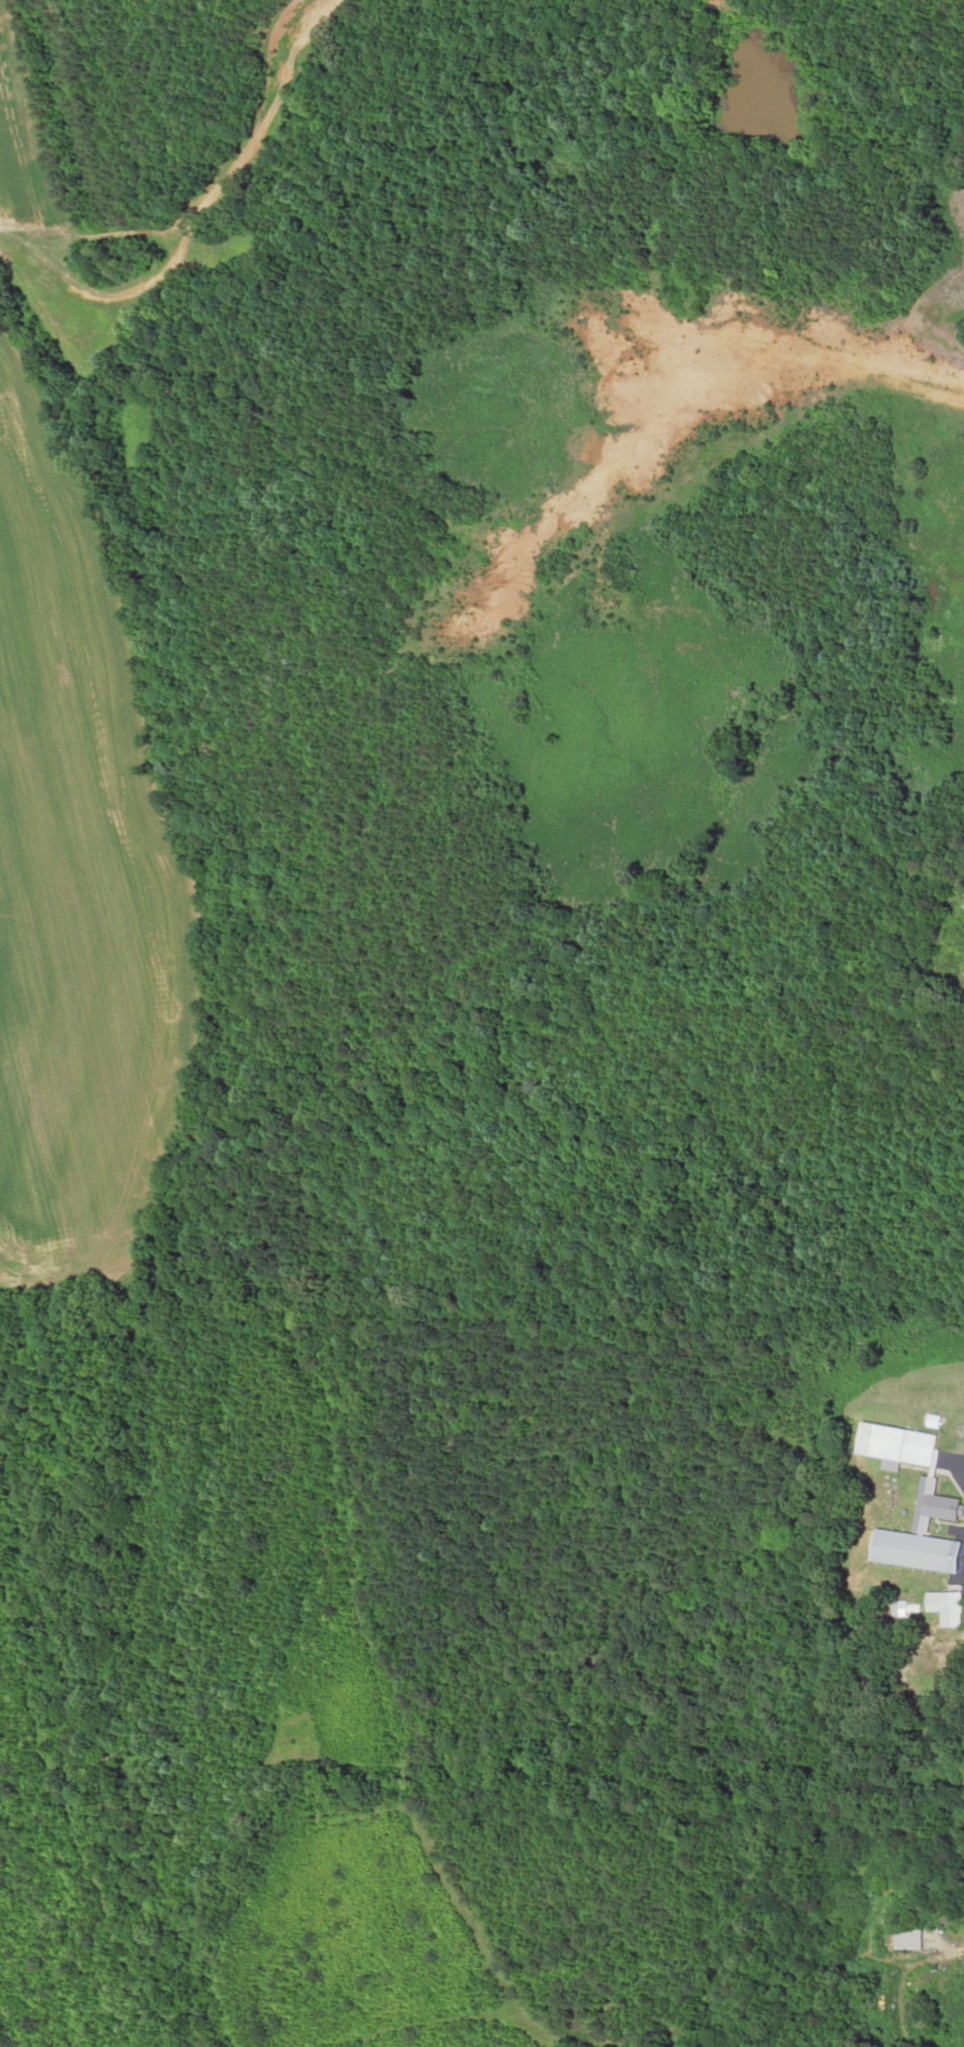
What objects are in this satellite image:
road: (954, 70)
building: (904, 1443)
building: (928, 1533)
building: (951, 1606)
building: (902, 1863)
road: (818, 1892)
building: (920, 1938)

